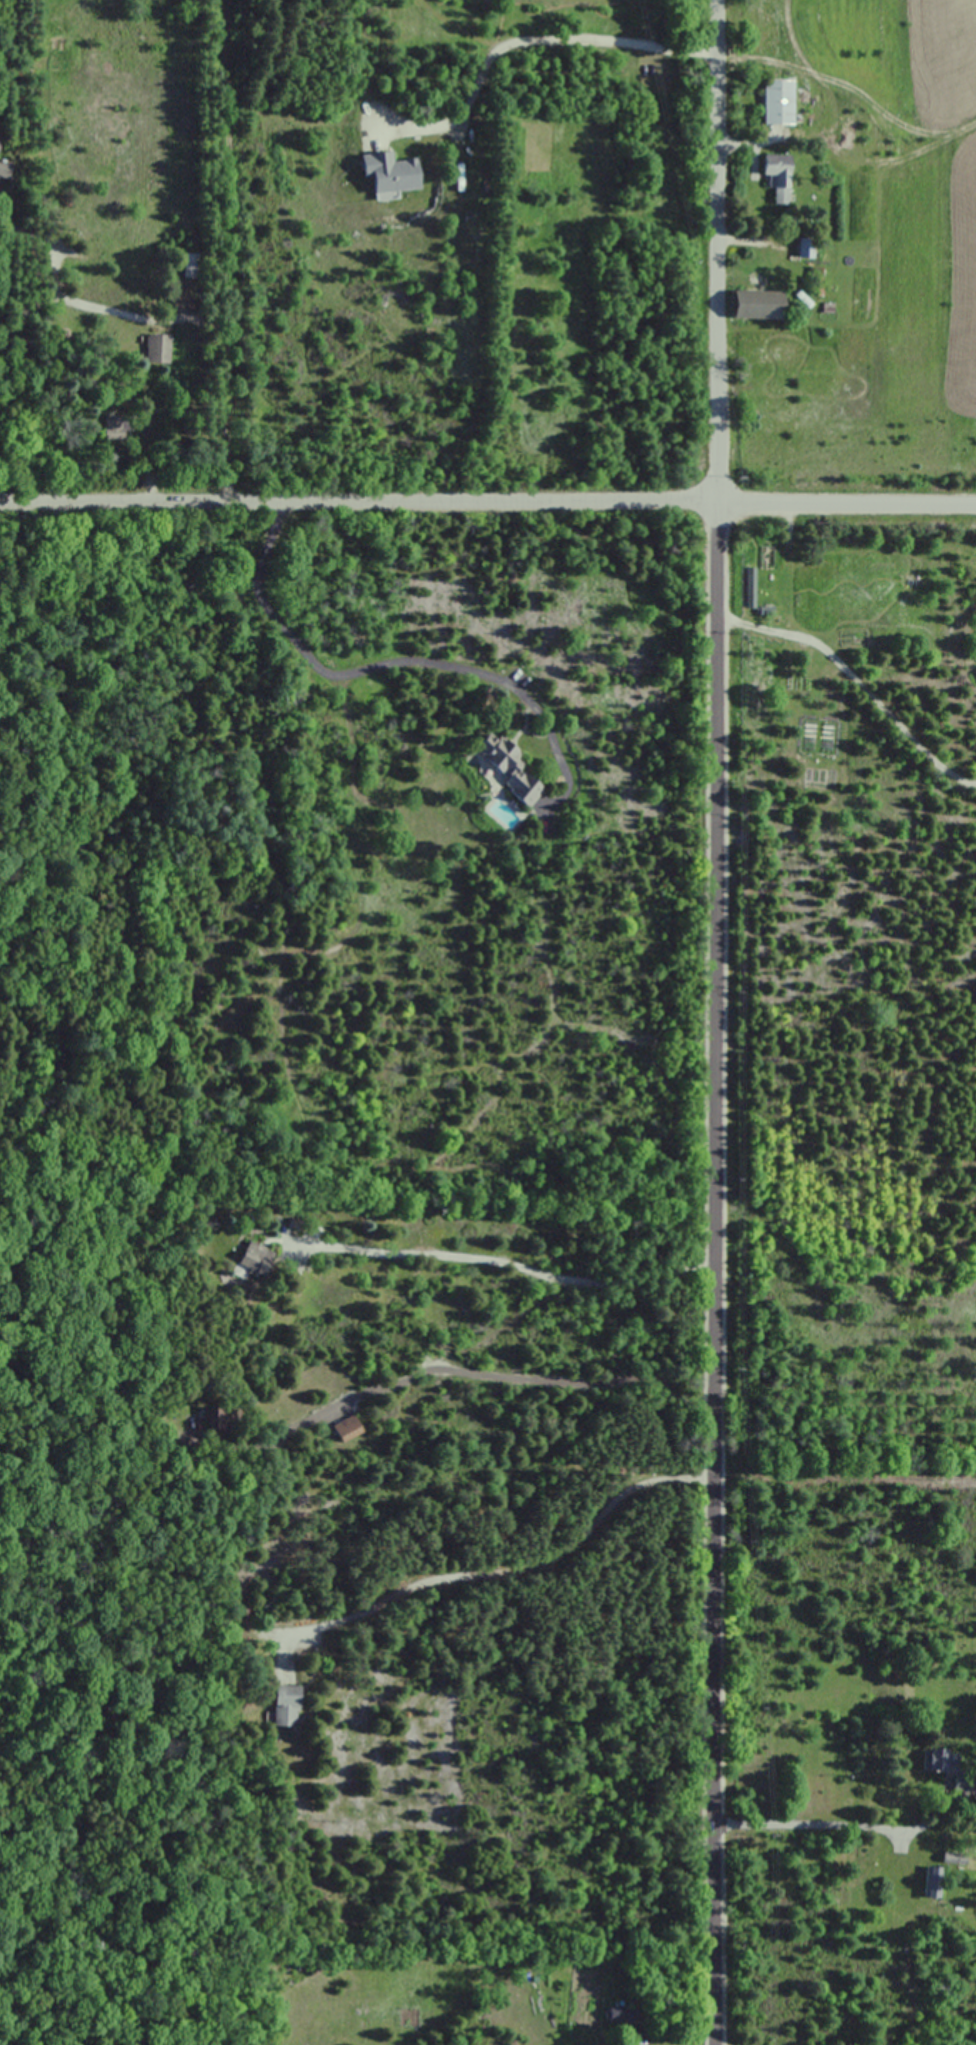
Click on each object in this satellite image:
road: (523, 40)
building: (777, 103)
building: (3, 168)
building: (387, 172)
building: (776, 179)
road: (227, 251)
building: (190, 265)
road: (98, 306)
building: (754, 310)
building: (156, 348)
building: (113, 427)
road: (488, 501)
building: (750, 583)
road: (393, 662)
building: (506, 767)
road: (714, 1022)
building: (253, 1258)
road: (509, 1263)
road: (492, 1374)
building: (346, 1428)
road: (508, 1566)
building: (283, 1705)
building: (941, 1764)
road: (811, 1830)
building: (949, 1857)
building: (930, 1882)
building: (623, 2015)

